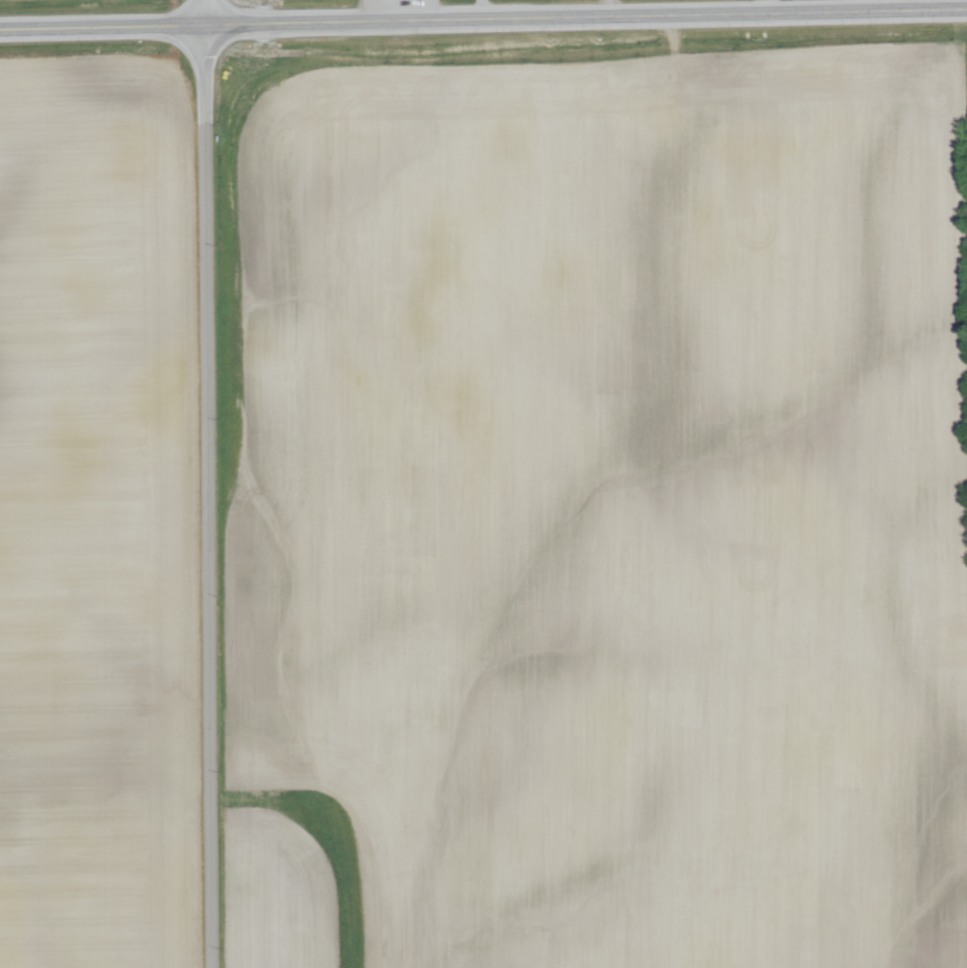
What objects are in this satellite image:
road: (381, 9)
road: (483, 15)
road: (207, 483)

